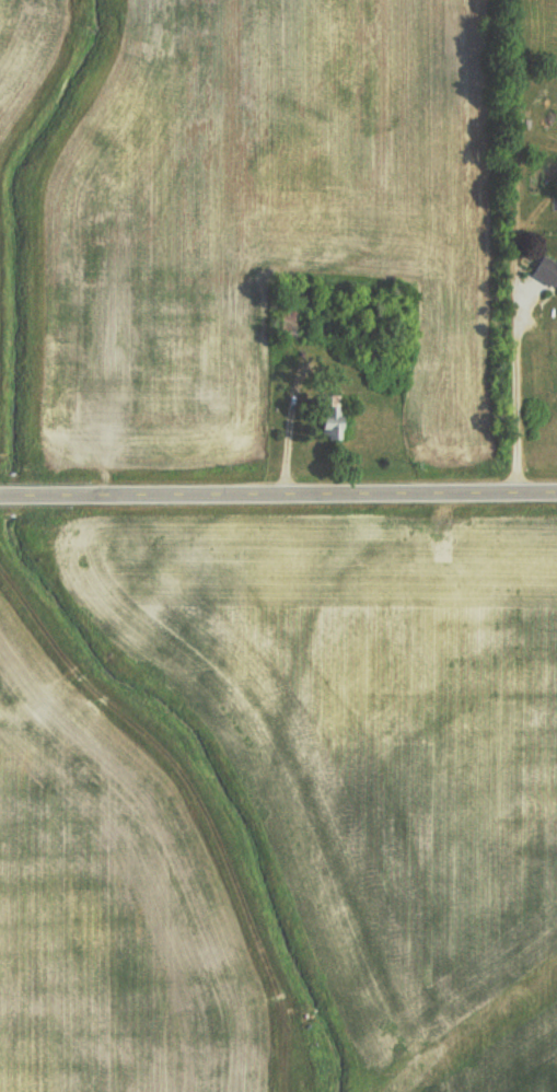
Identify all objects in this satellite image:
building: (547, 269)
road: (526, 303)
road: (514, 409)
building: (333, 421)
road: (278, 497)
crop: (376, 736)
crop: (514, 1065)

